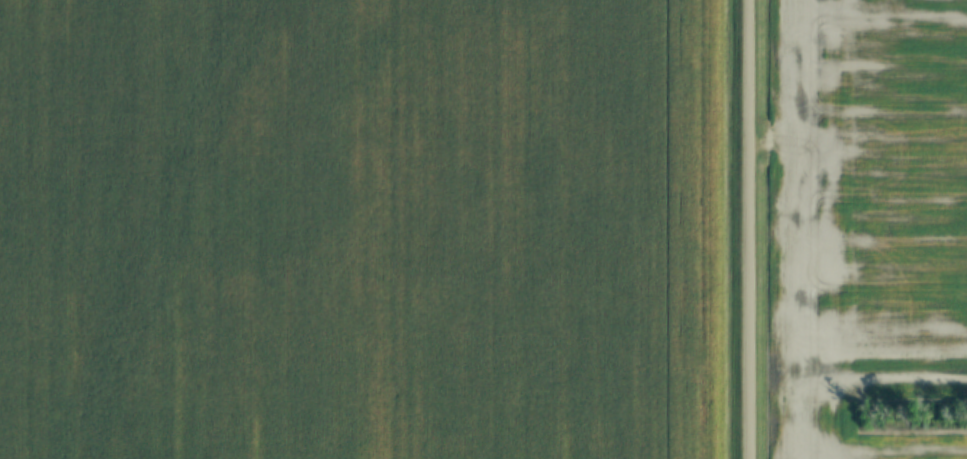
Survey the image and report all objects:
road: (756, 229)

